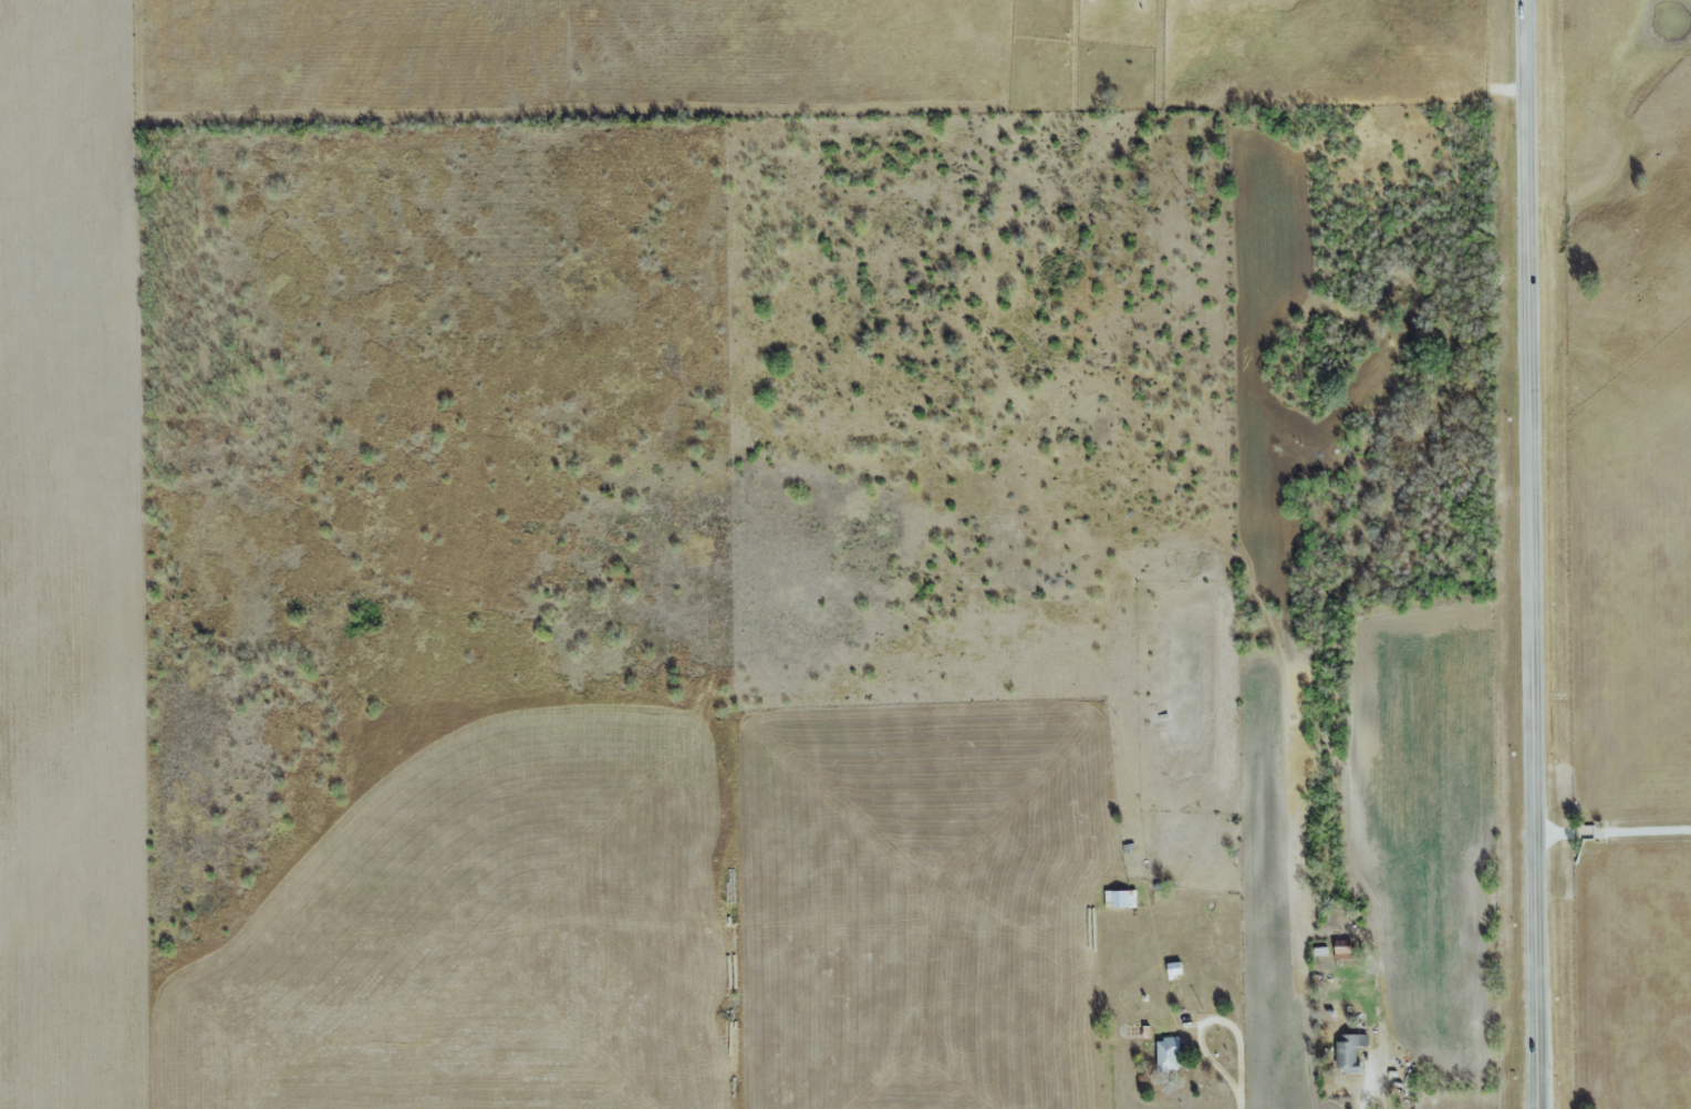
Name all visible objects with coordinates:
road: (1533, 553)
road: (1614, 833)
building: (1122, 898)
building: (1342, 949)
building: (1175, 968)
road: (1208, 1022)
building: (1350, 1051)
building: (1169, 1054)
road: (1365, 1081)
road: (1239, 1105)

